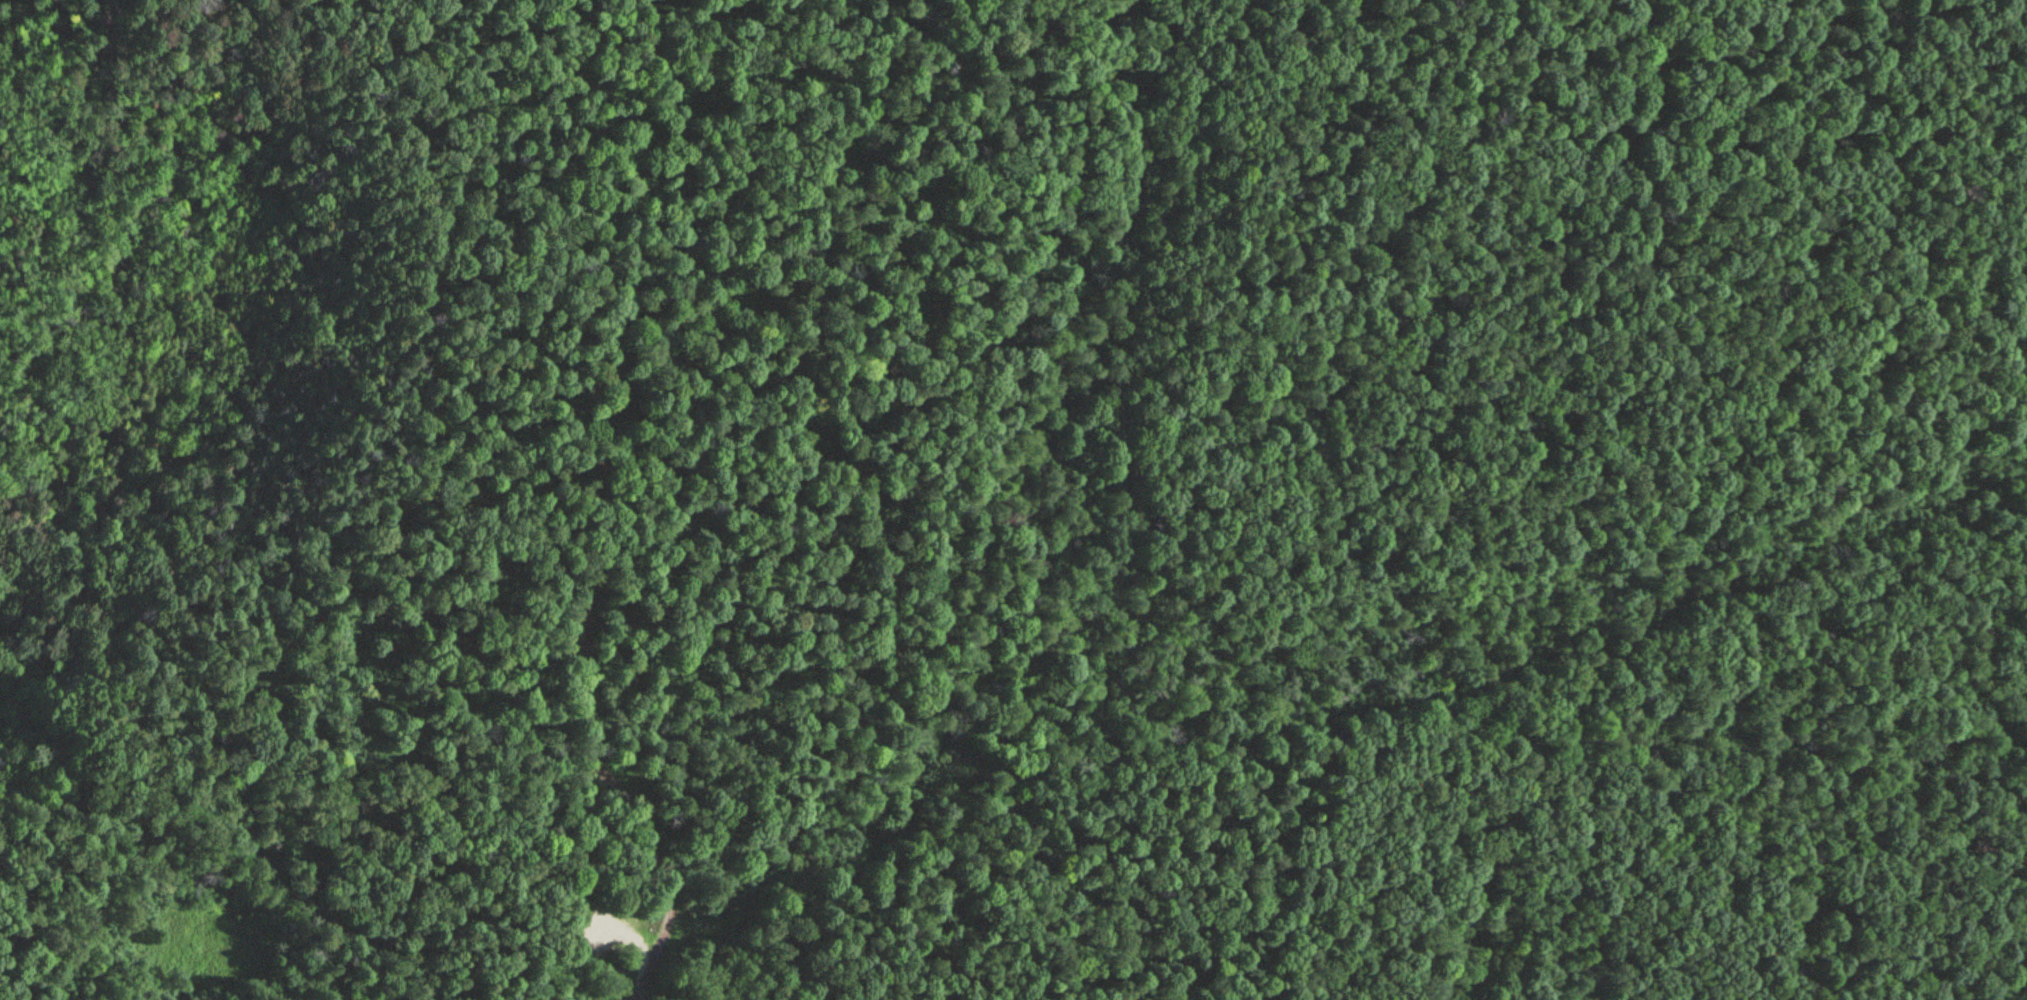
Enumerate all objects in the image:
road: (357, 428)
road: (588, 514)
road: (1333, 714)
road: (341, 777)
road: (48, 819)
road: (576, 941)
parking lot: (603, 947)

